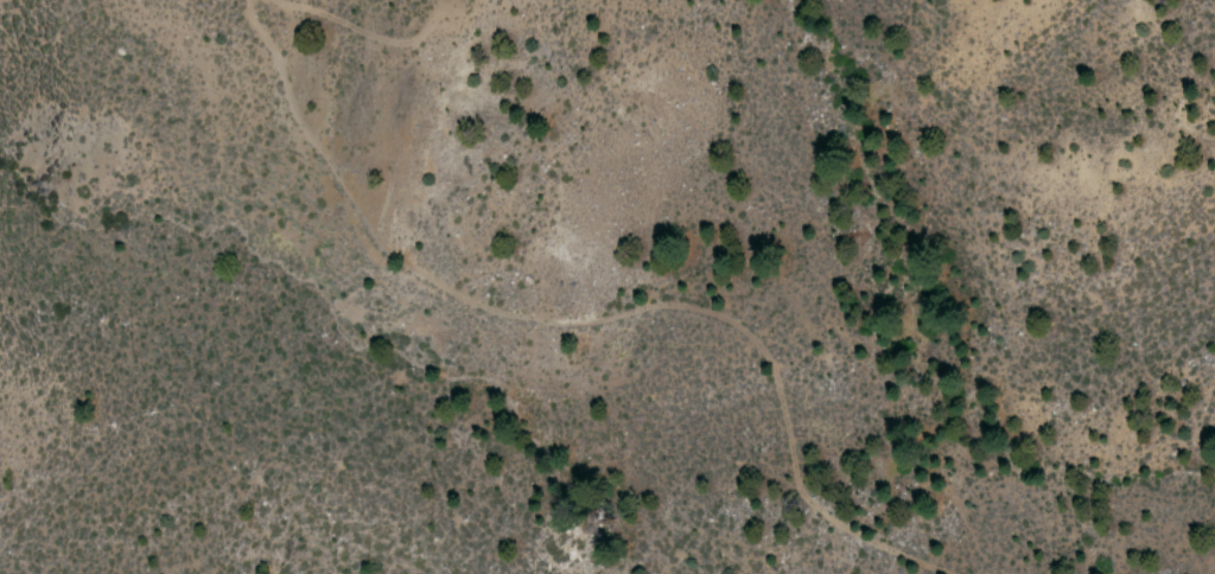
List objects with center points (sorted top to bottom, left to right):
road: (596, 315)

